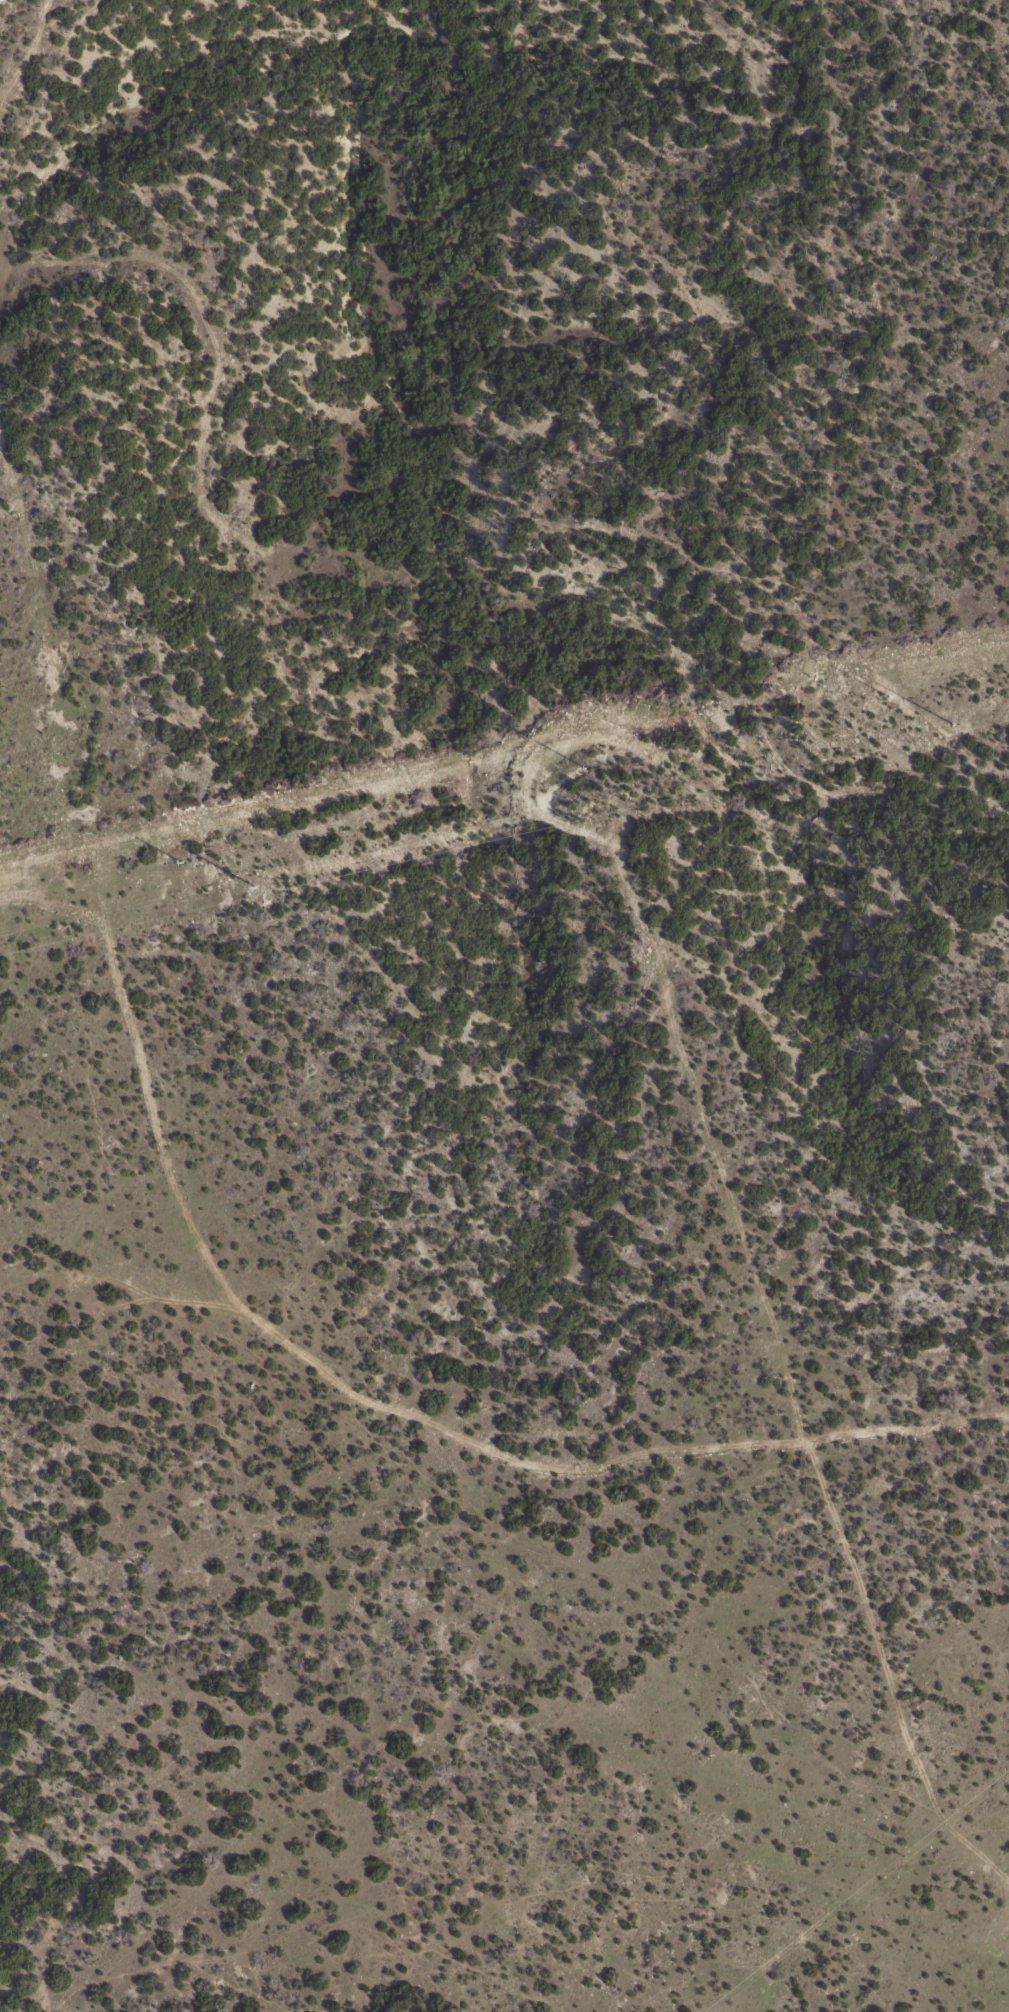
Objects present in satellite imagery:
power tower: (886, 695)
power tower: (951, 725)
power tower: (581, 768)
power tower: (180, 862)
power tower: (245, 887)
road: (366, 1397)
power tower: (906, 1856)

